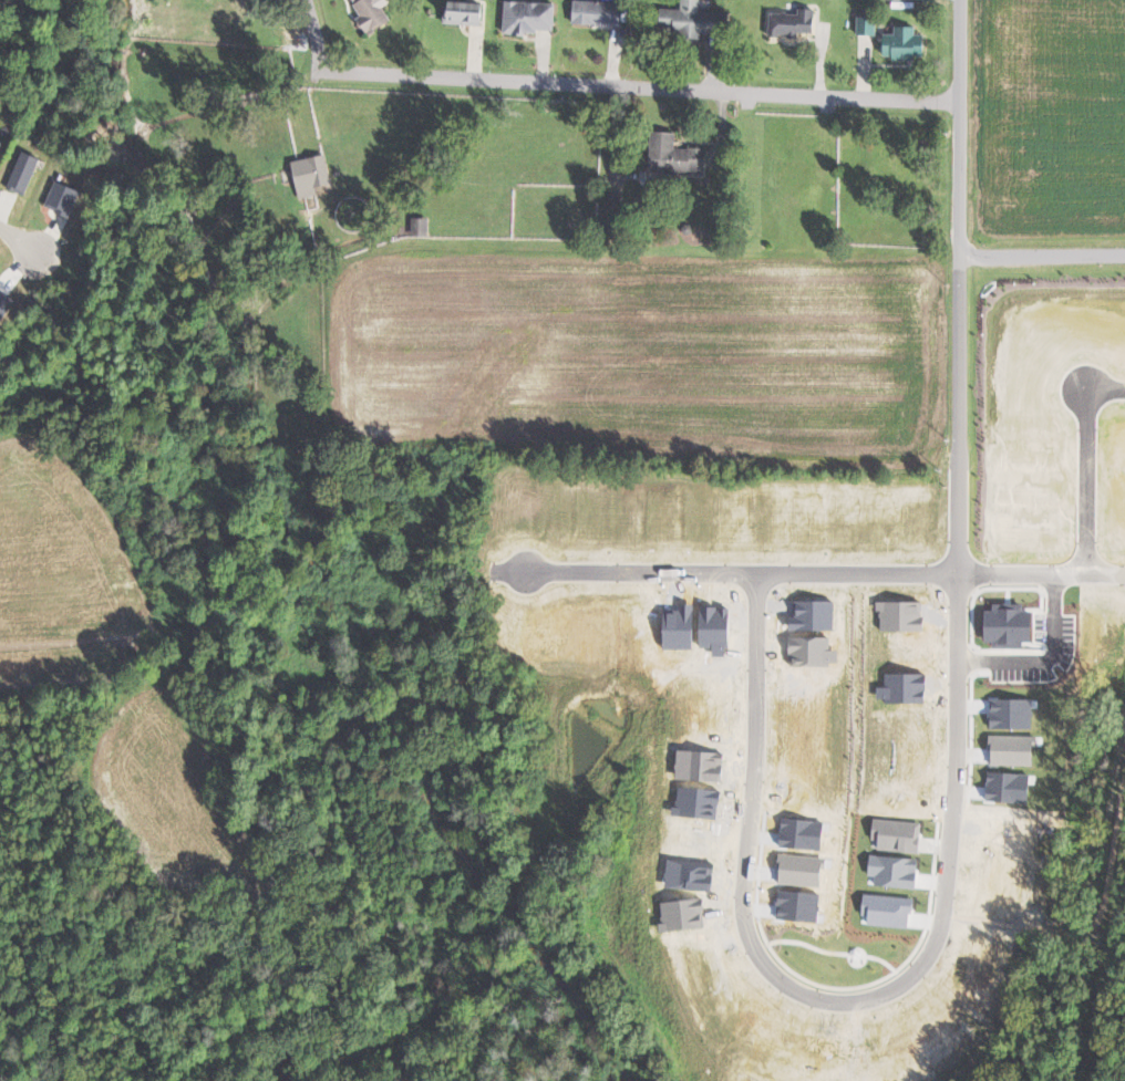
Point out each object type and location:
building: (900, 0)
building: (602, 12)
building: (467, 13)
building: (374, 14)
building: (533, 18)
building: (700, 23)
building: (796, 23)
building: (869, 25)
building: (907, 44)
road: (606, 89)
building: (1, 146)
building: (679, 154)
building: (25, 171)
building: (313, 174)
building: (423, 226)
road: (20, 240)
road: (1041, 261)
road: (1111, 385)
road: (1096, 478)
road: (745, 568)
river: (310, 569)
road: (1043, 569)
road: (959, 767)

